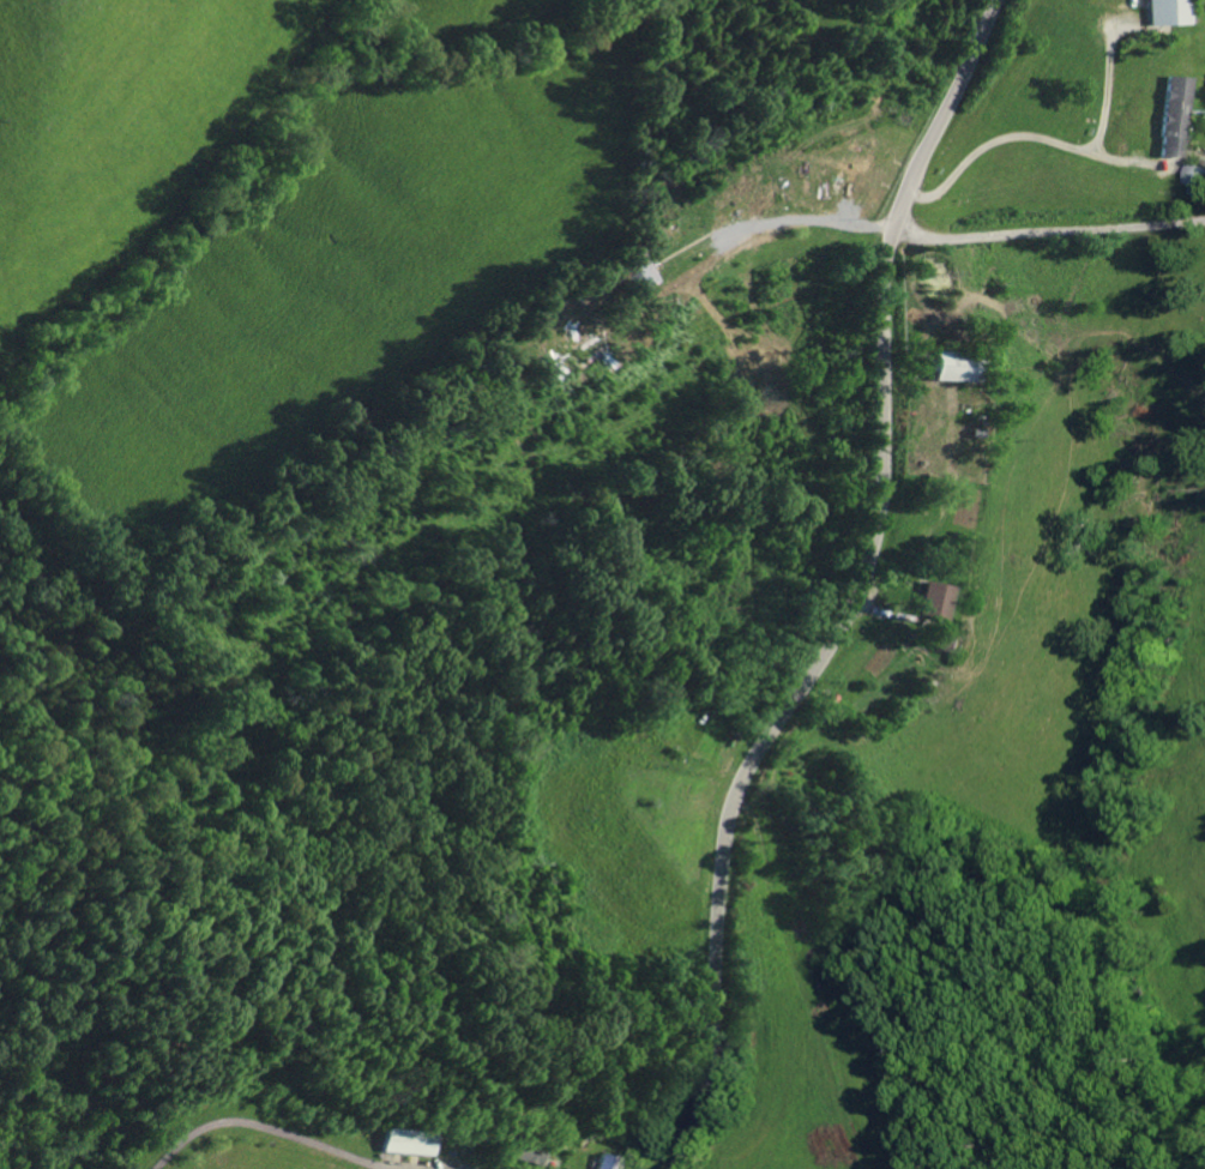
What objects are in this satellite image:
building: (1167, 11)
building: (1171, 114)
road: (1038, 229)
building: (956, 366)
road: (839, 592)
building: (934, 599)
building: (951, 643)
building: (411, 1141)
building: (530, 1153)
building: (556, 1162)
building: (610, 1162)

